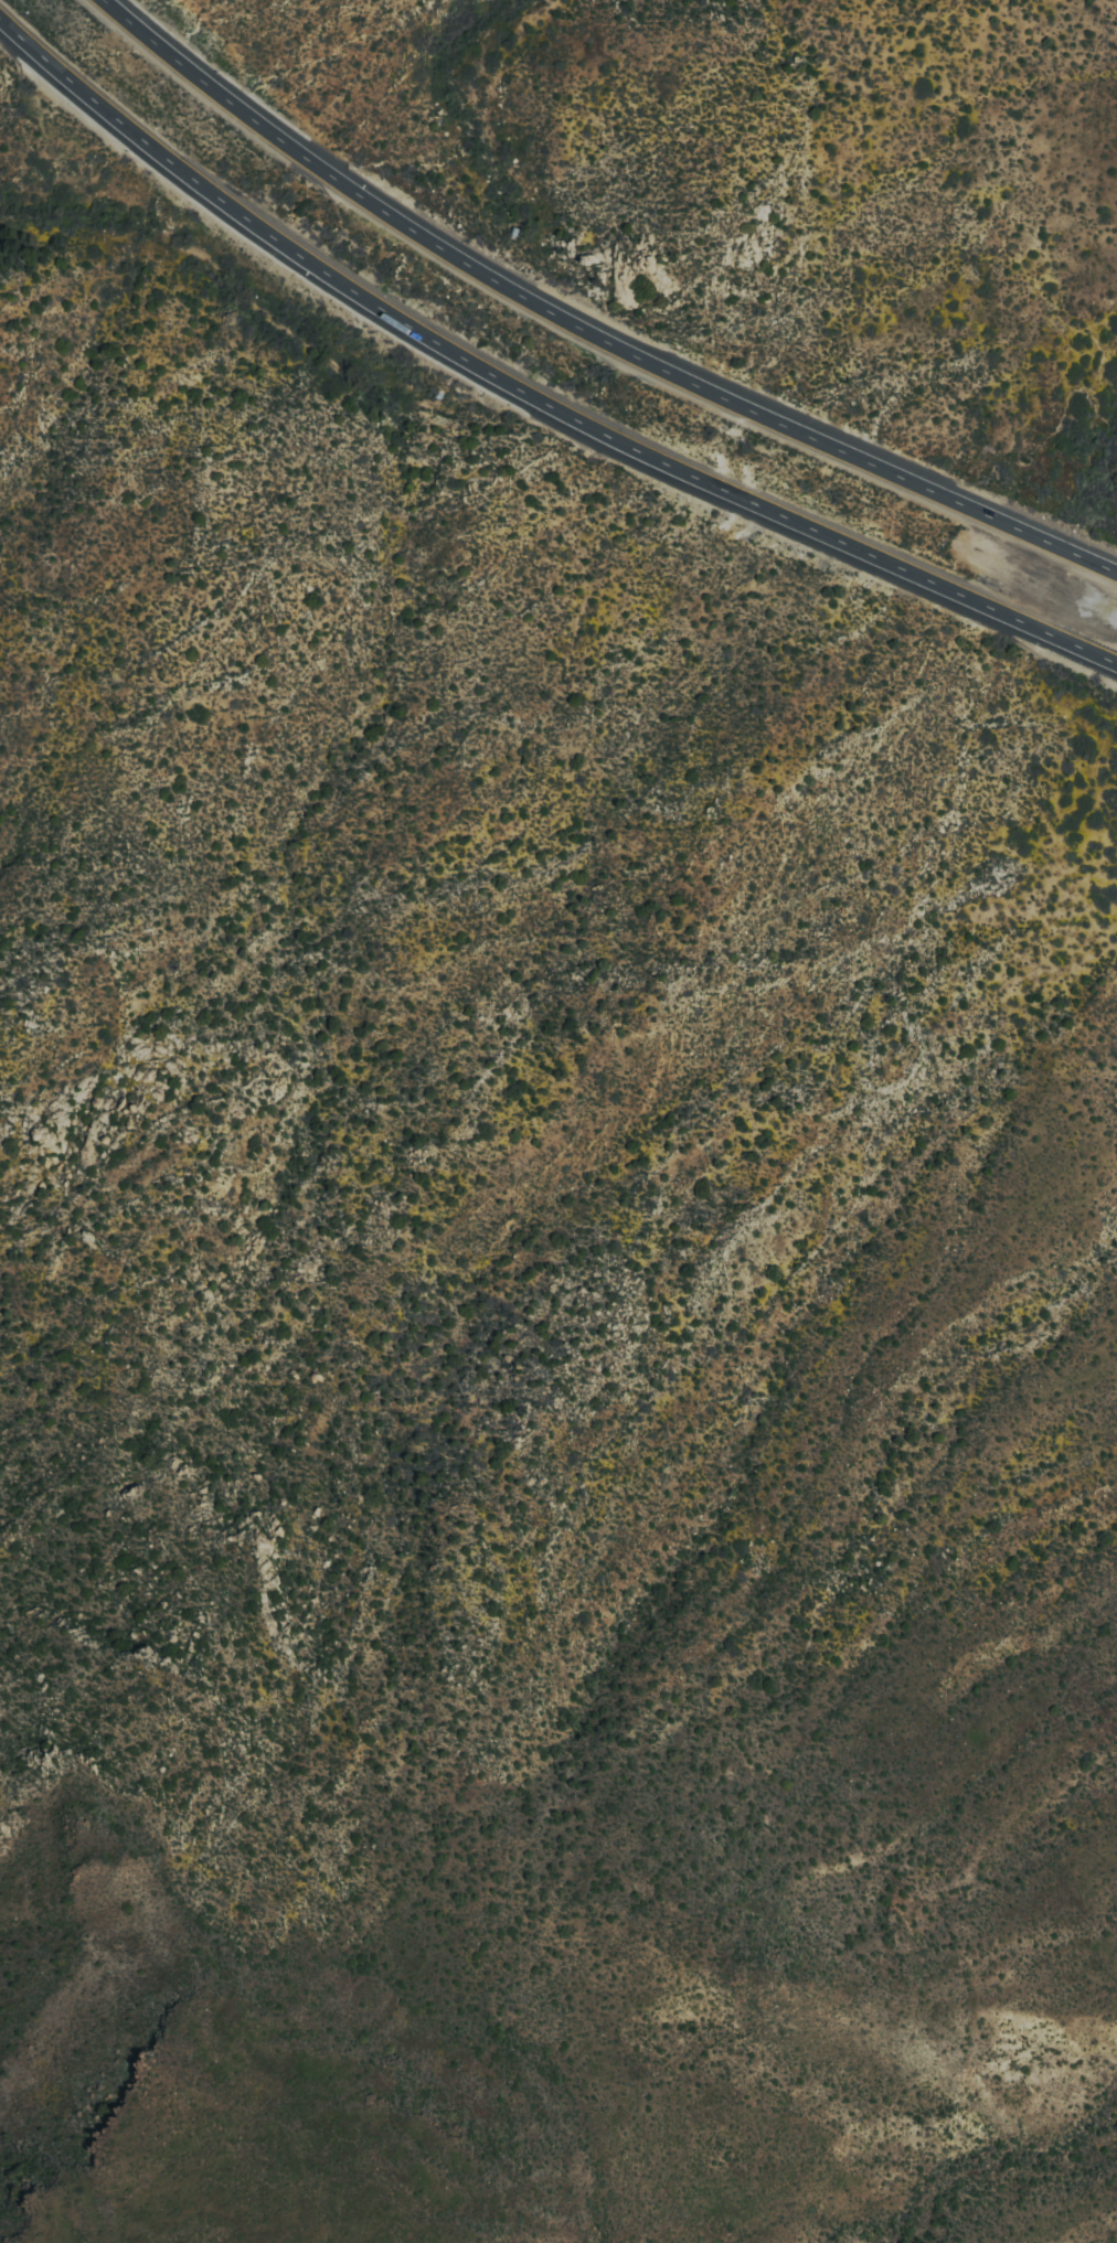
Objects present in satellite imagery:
road: (587, 325)
road: (529, 391)

